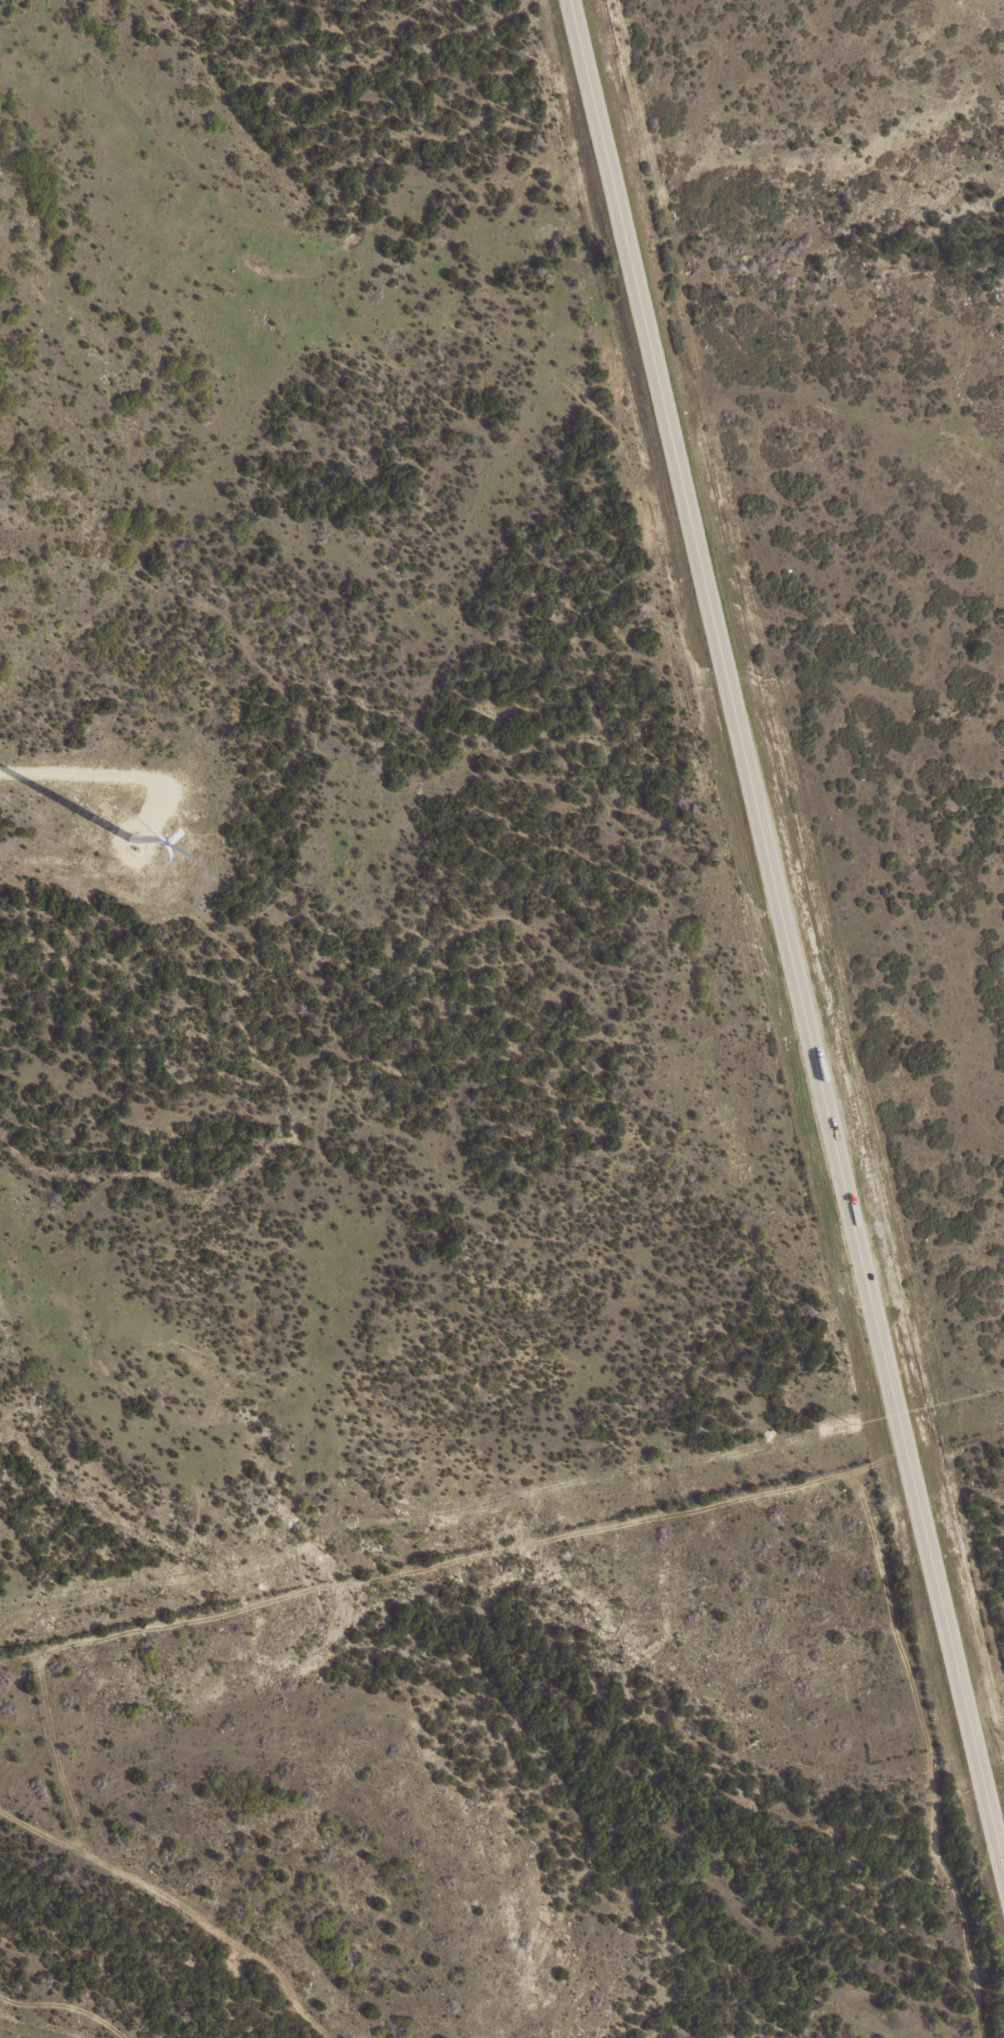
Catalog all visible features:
wind turbine: (144, 847)
road: (786, 940)

